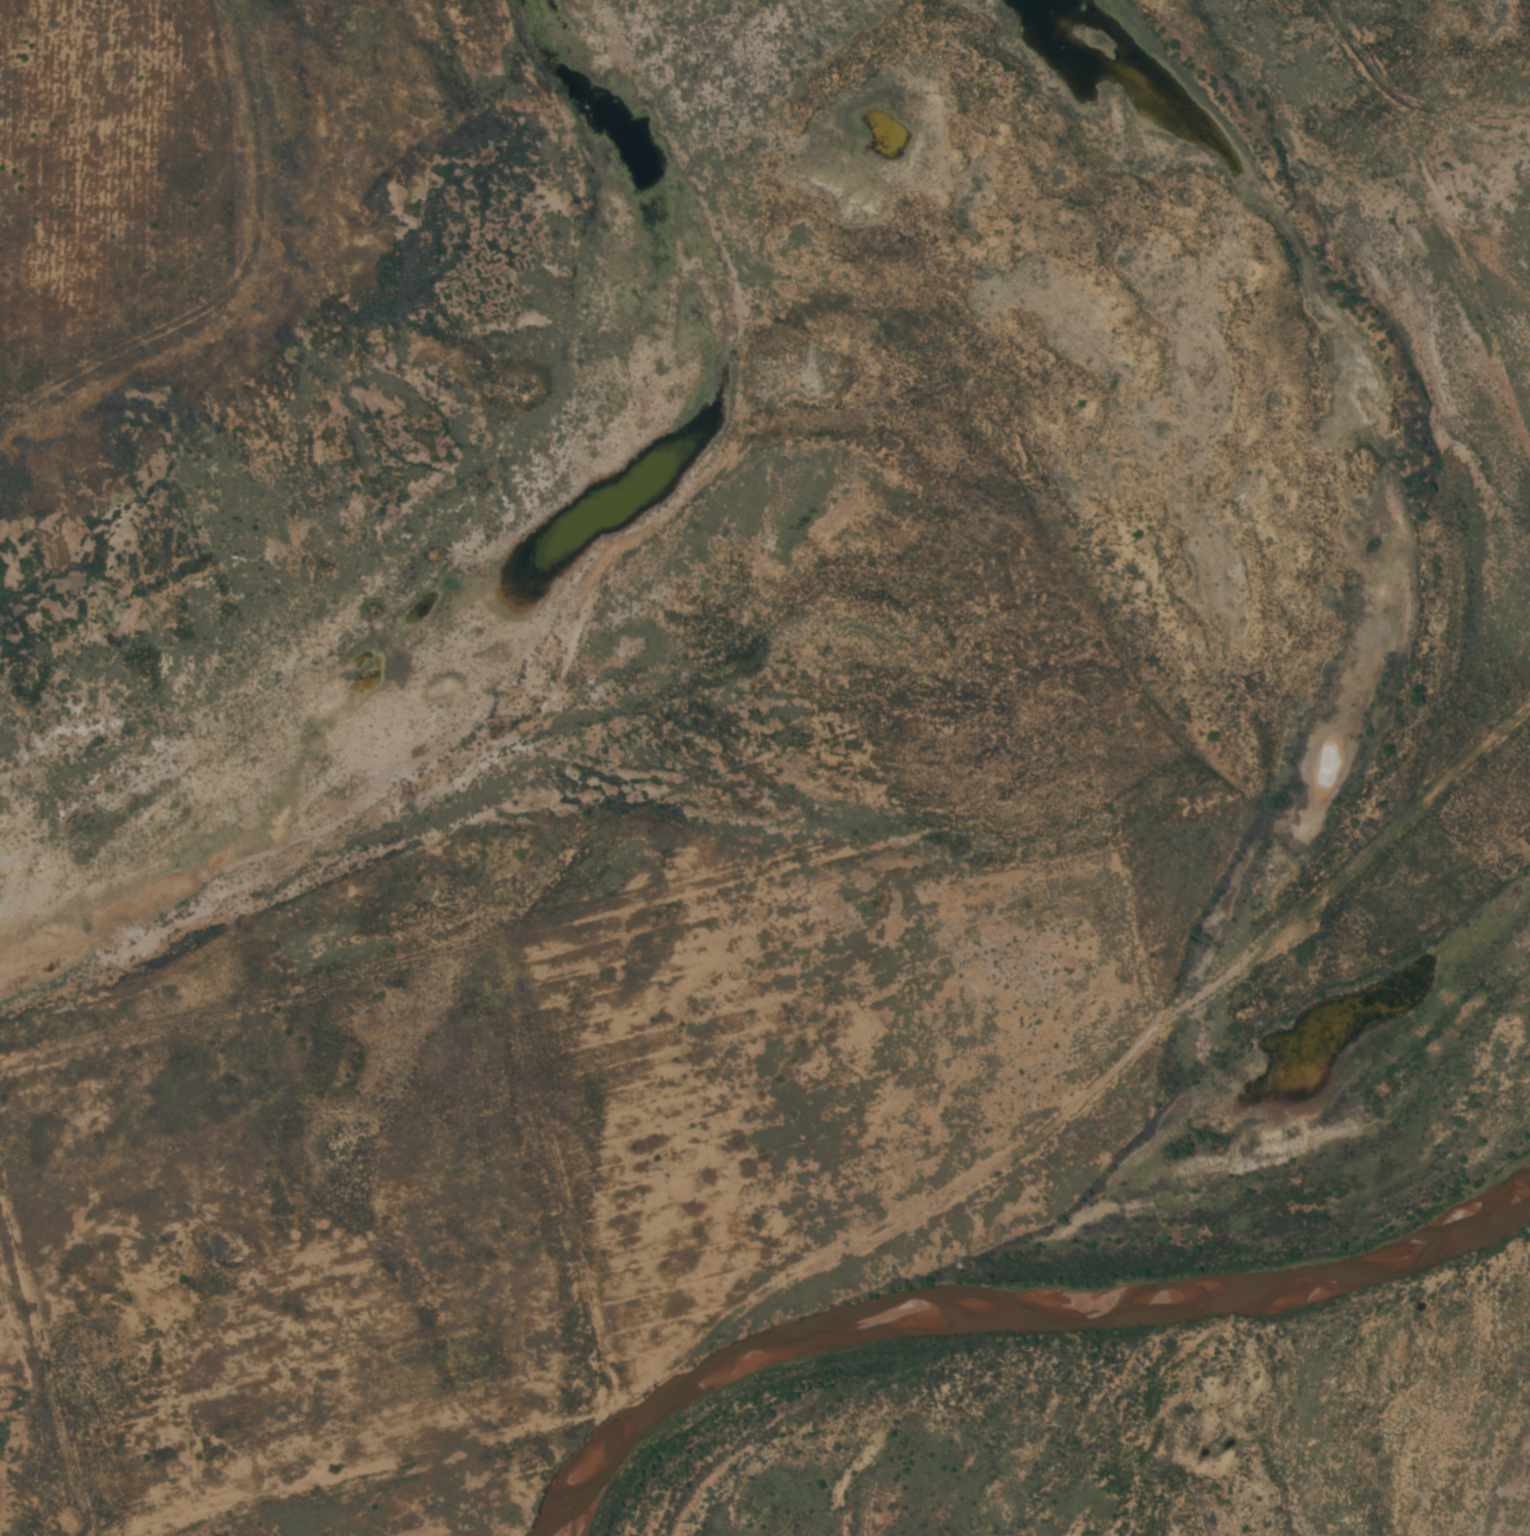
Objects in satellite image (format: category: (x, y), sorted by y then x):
river: (1018, 1316)

